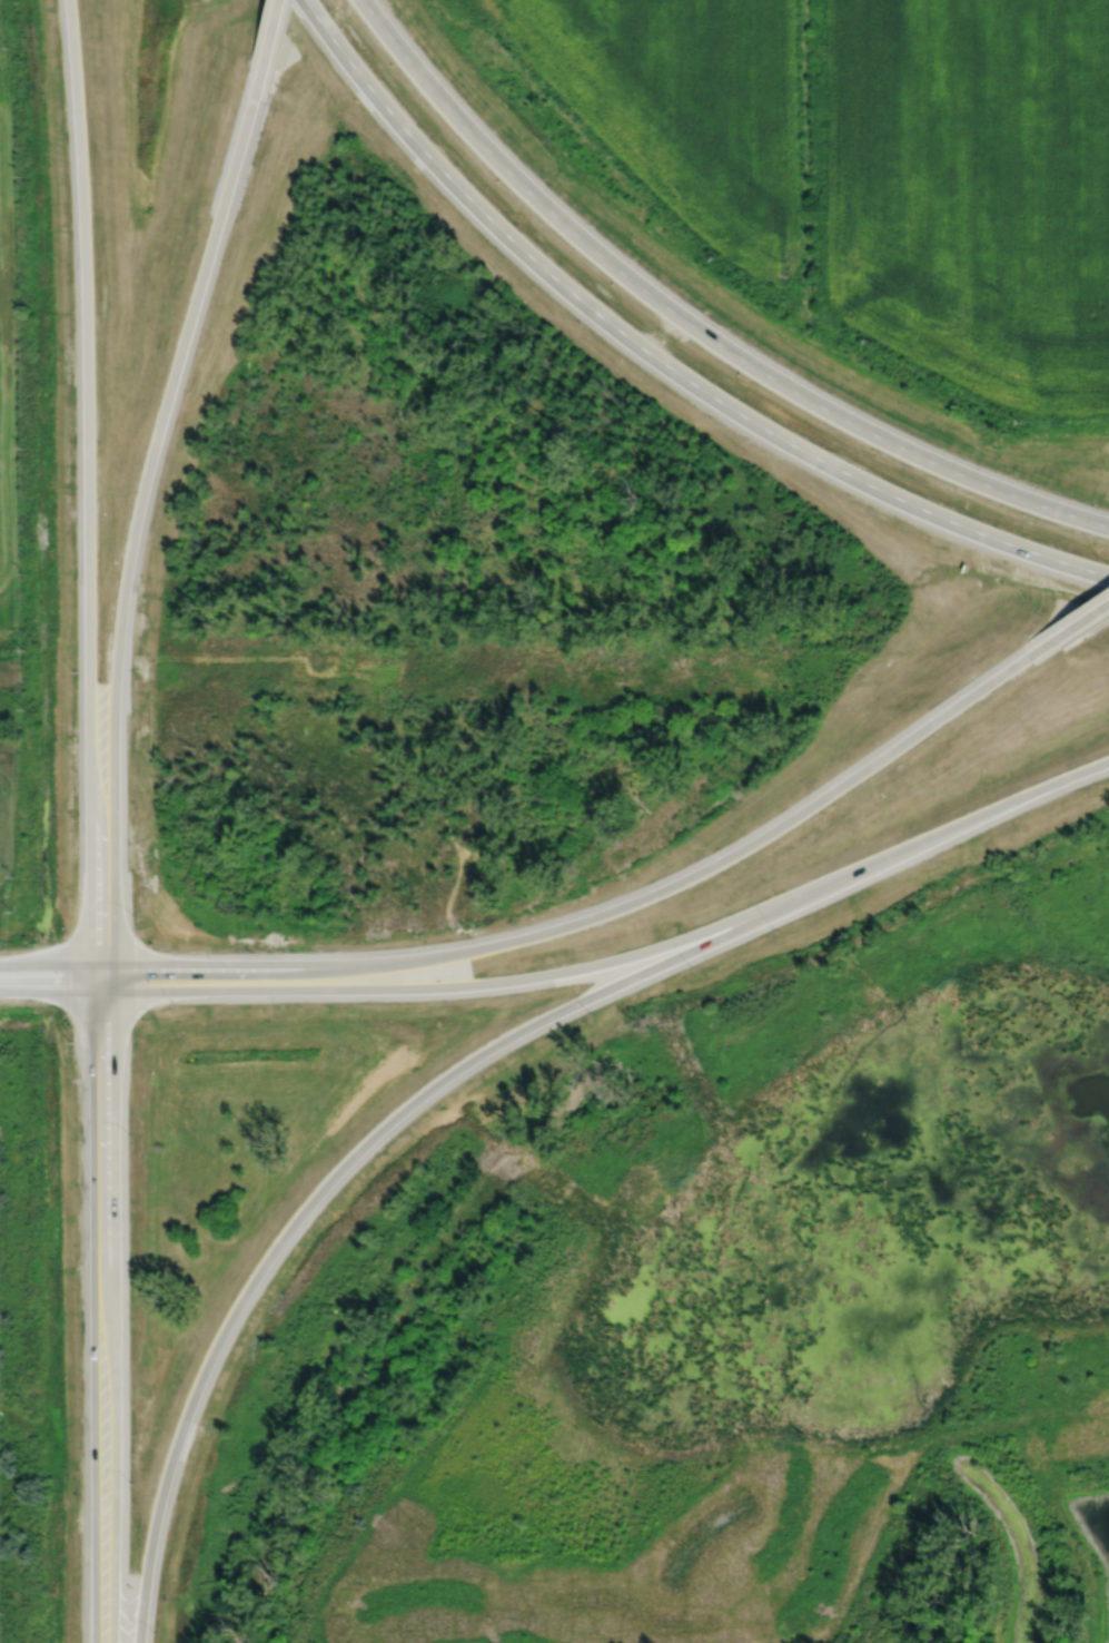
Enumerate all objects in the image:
road: (266, 48)
crop: (878, 165)
road: (692, 325)
road: (656, 357)
road: (88, 484)
road: (135, 527)
road: (1071, 629)
road: (747, 846)
road: (43, 968)
road: (99, 970)
road: (268, 971)
road: (561, 971)
road: (42, 992)
road: (99, 993)
road: (475, 1057)
road: (93, 1306)
road: (118, 1307)

